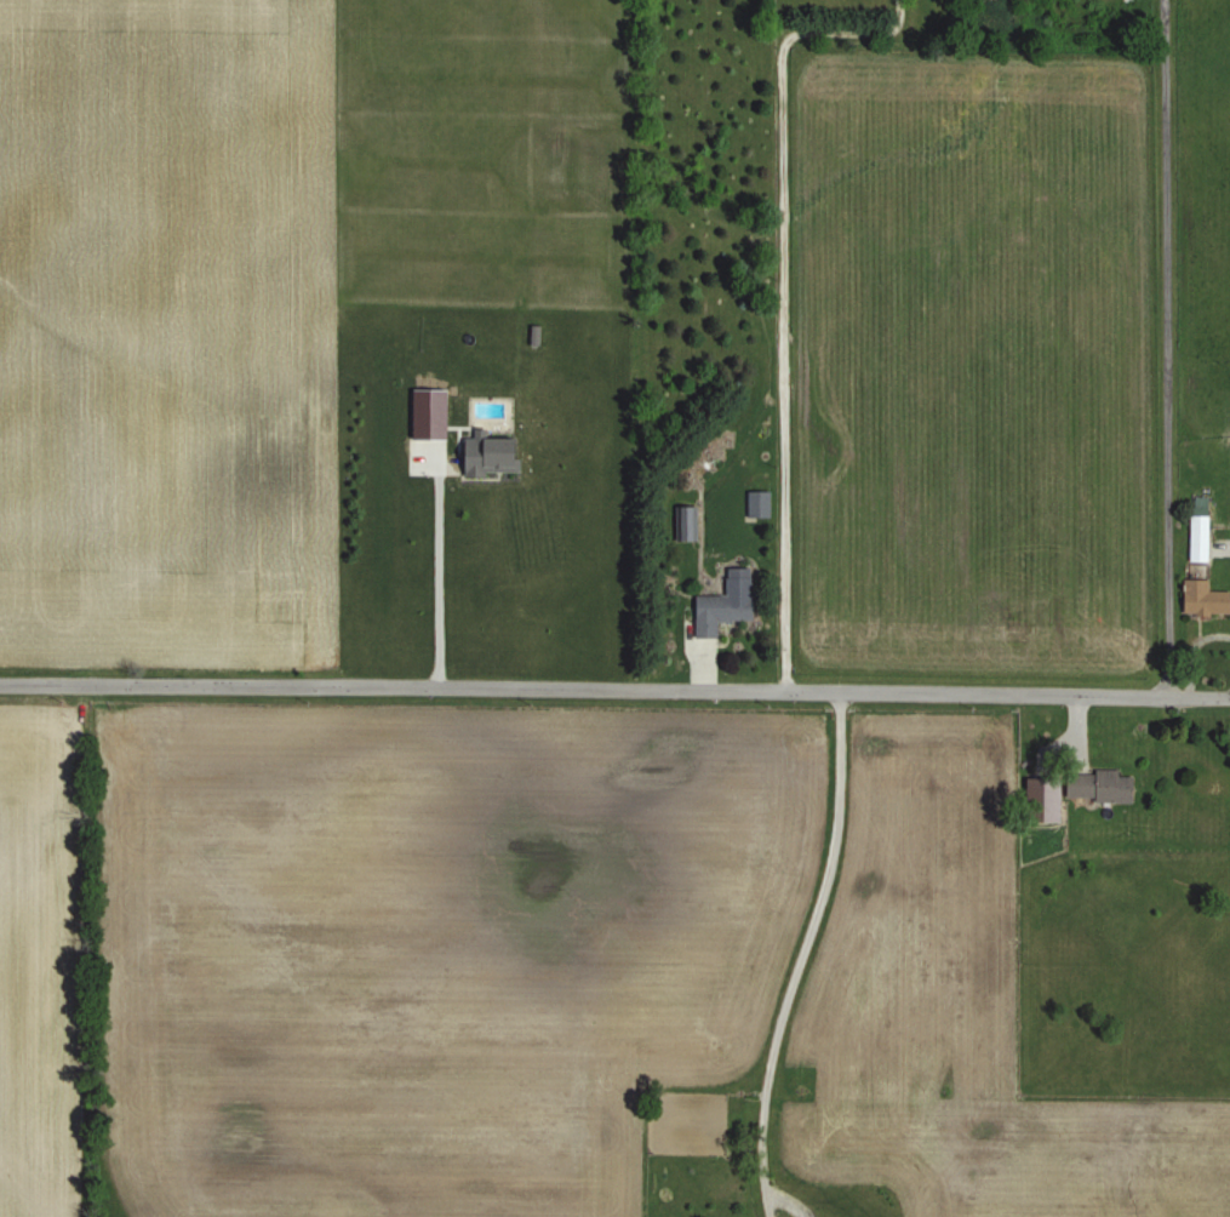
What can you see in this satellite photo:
road: (783, 293)
road: (1162, 348)
building: (490, 455)
building: (687, 524)
building: (1200, 528)
road: (447, 567)
building: (1203, 600)
building: (726, 605)
road: (614, 689)
building: (1098, 787)
building: (1042, 800)
road: (800, 954)

